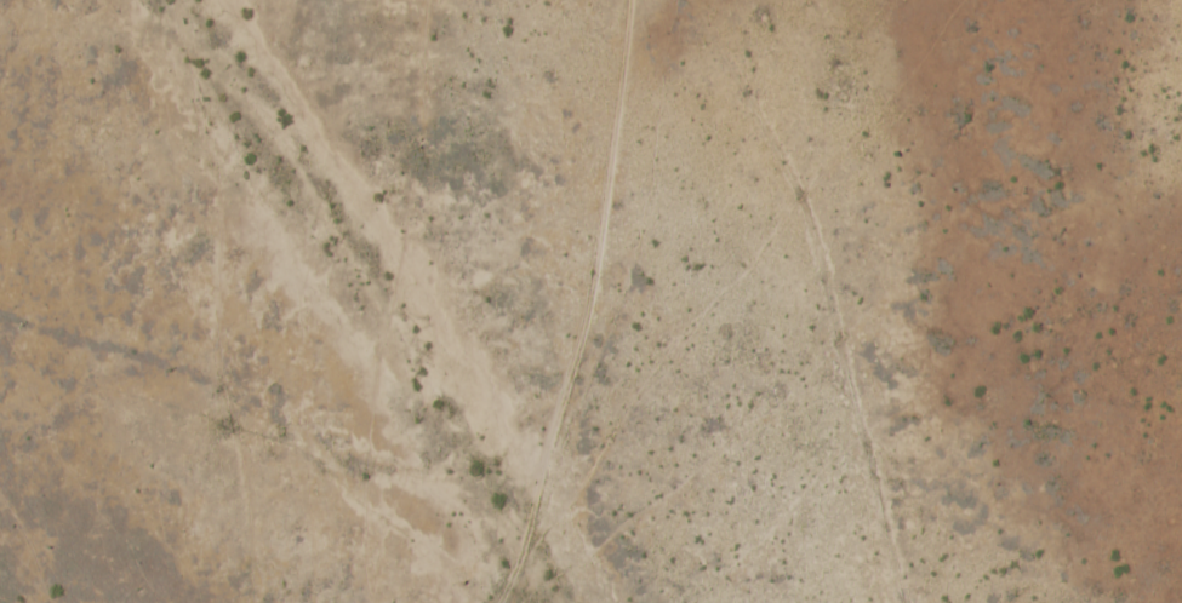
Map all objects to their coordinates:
road: (803, 289)

